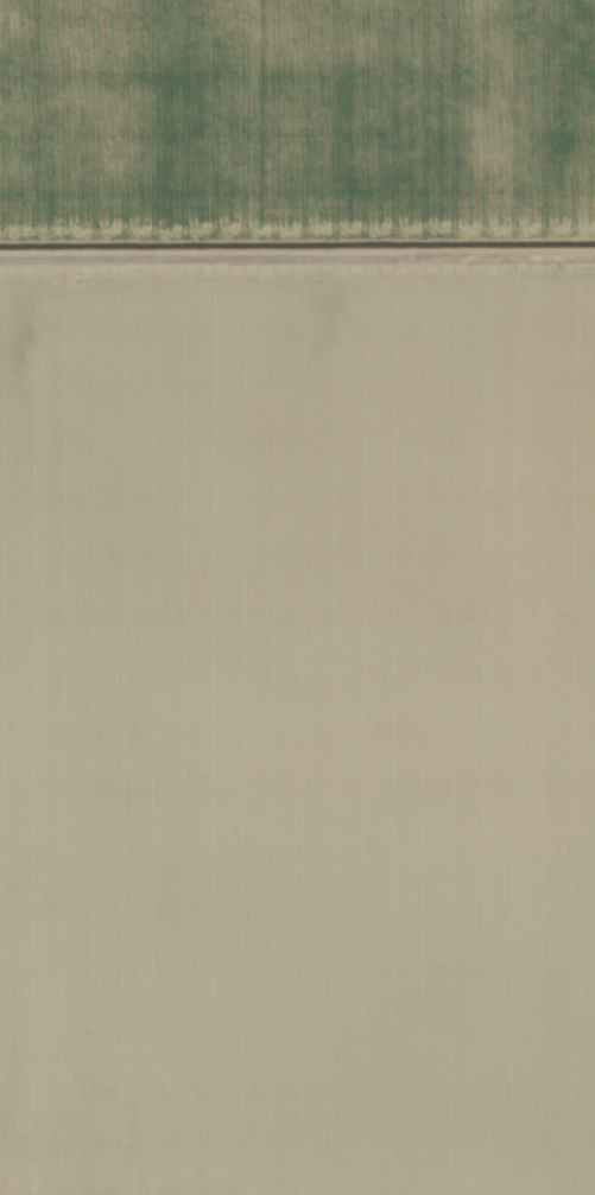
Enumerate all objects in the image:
crop: (297, 597)

